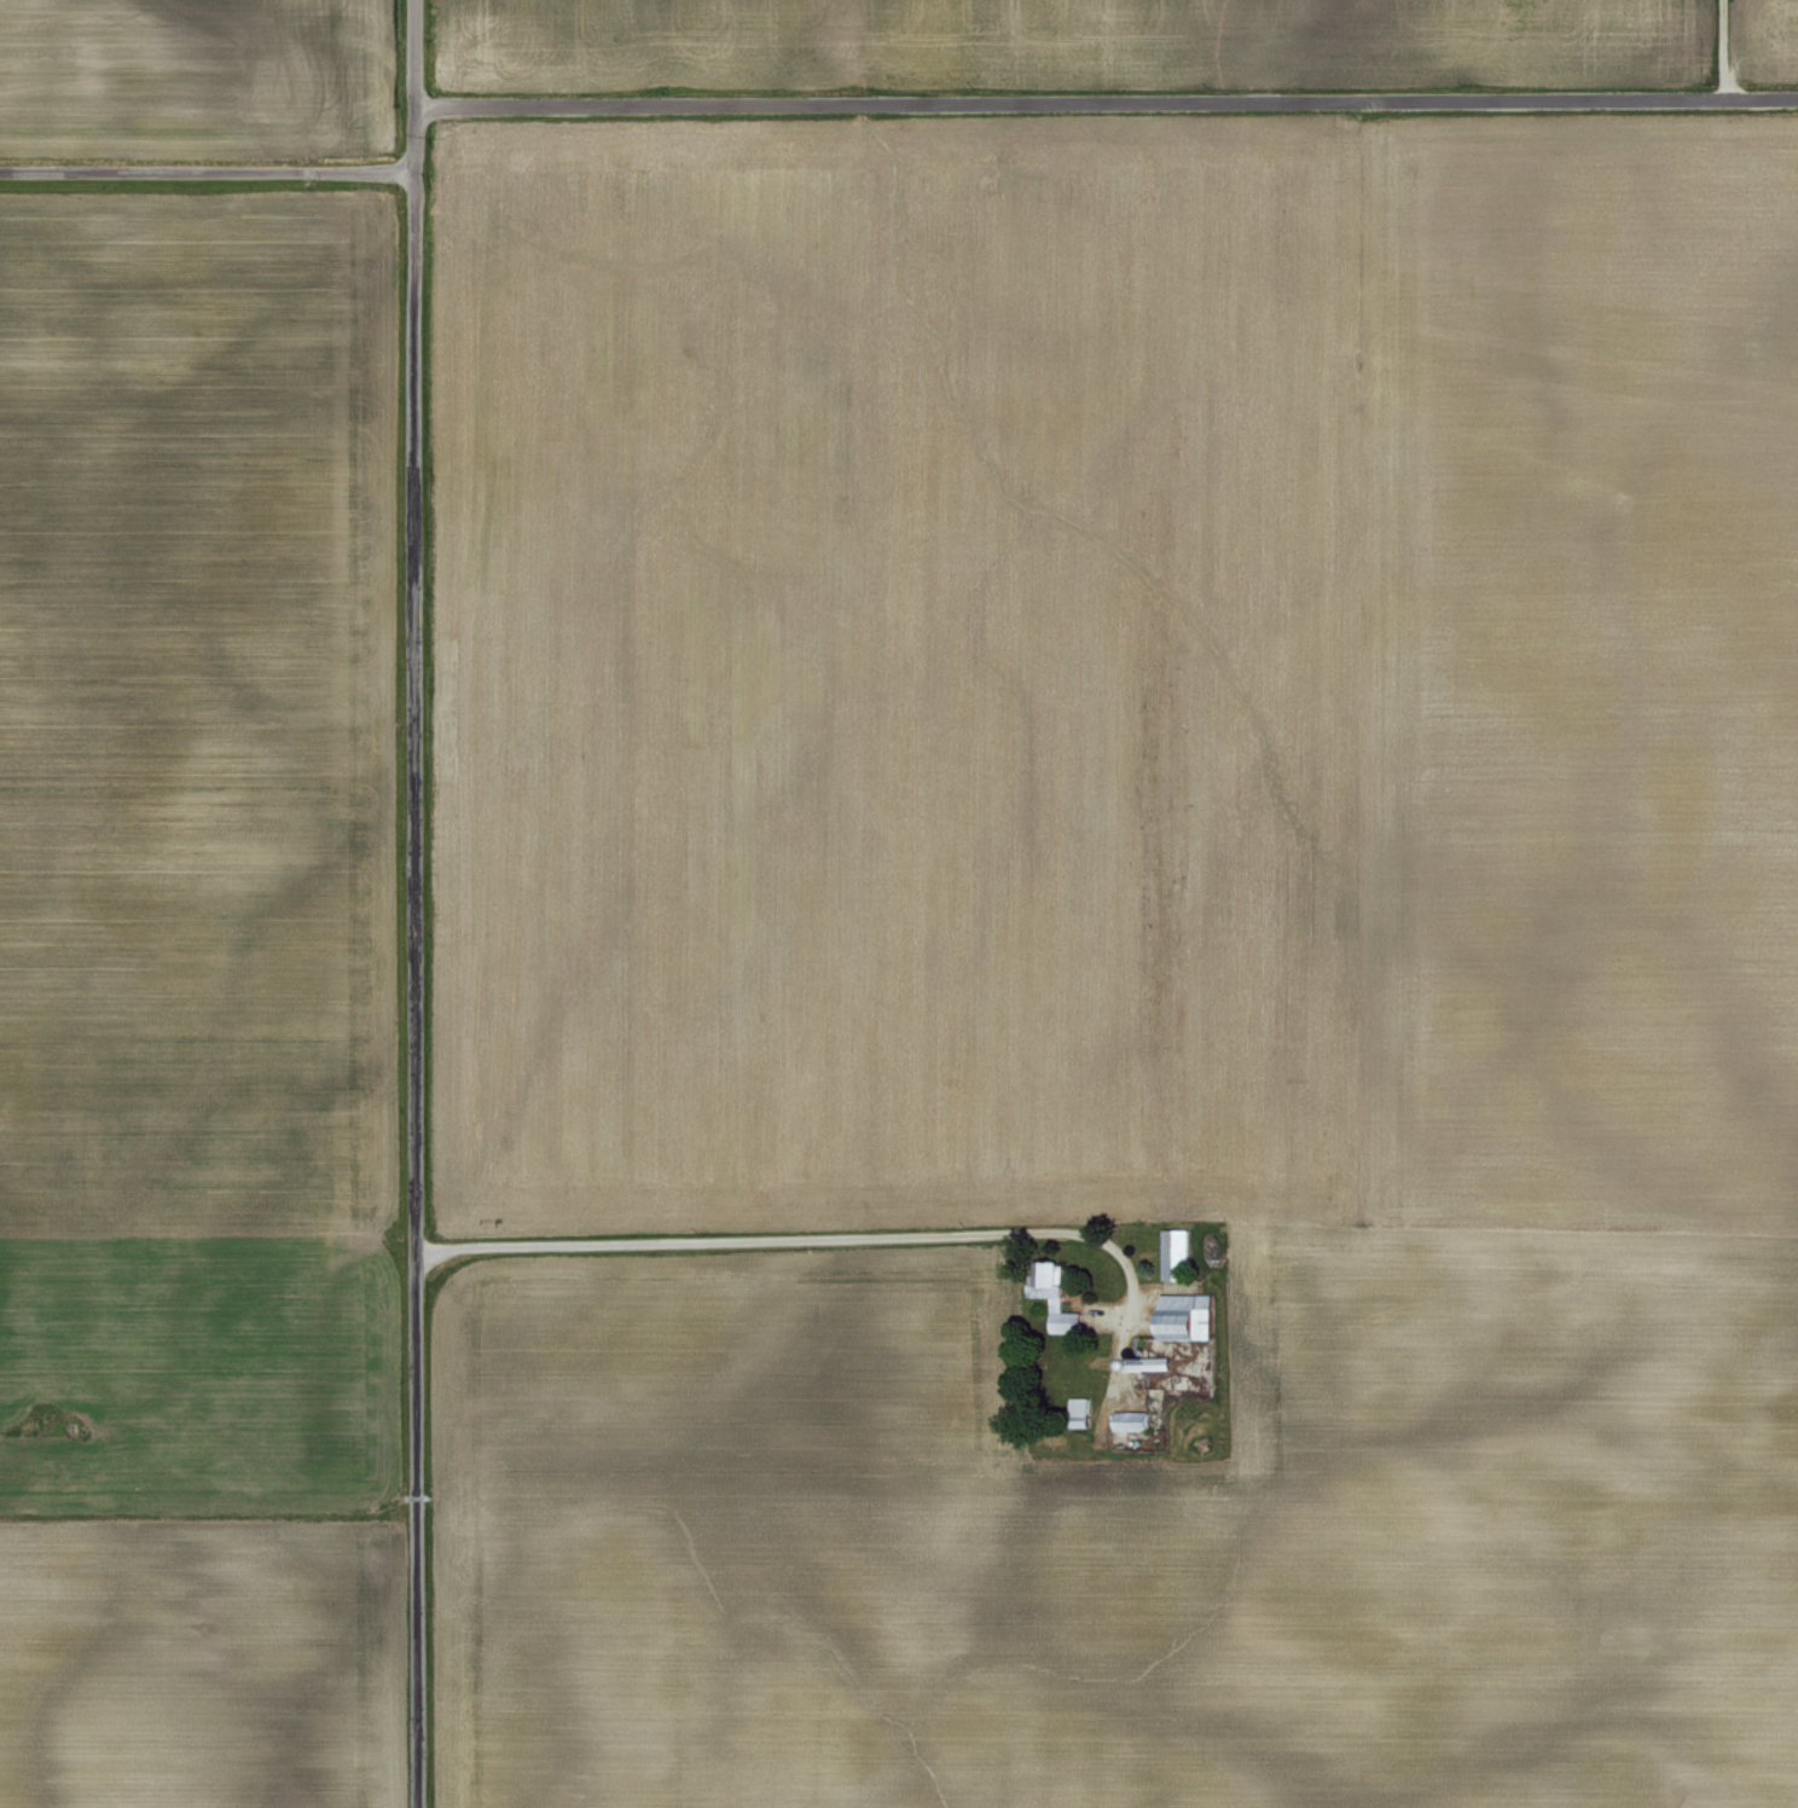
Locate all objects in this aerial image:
road: (1718, 50)
road: (408, 53)
road: (1103, 103)
road: (408, 137)
road: (203, 169)
road: (411, 986)
road: (802, 1240)
building: (1171, 1248)
building: (1050, 1293)
building: (1181, 1315)
building: (1075, 1410)
building: (1126, 1419)

